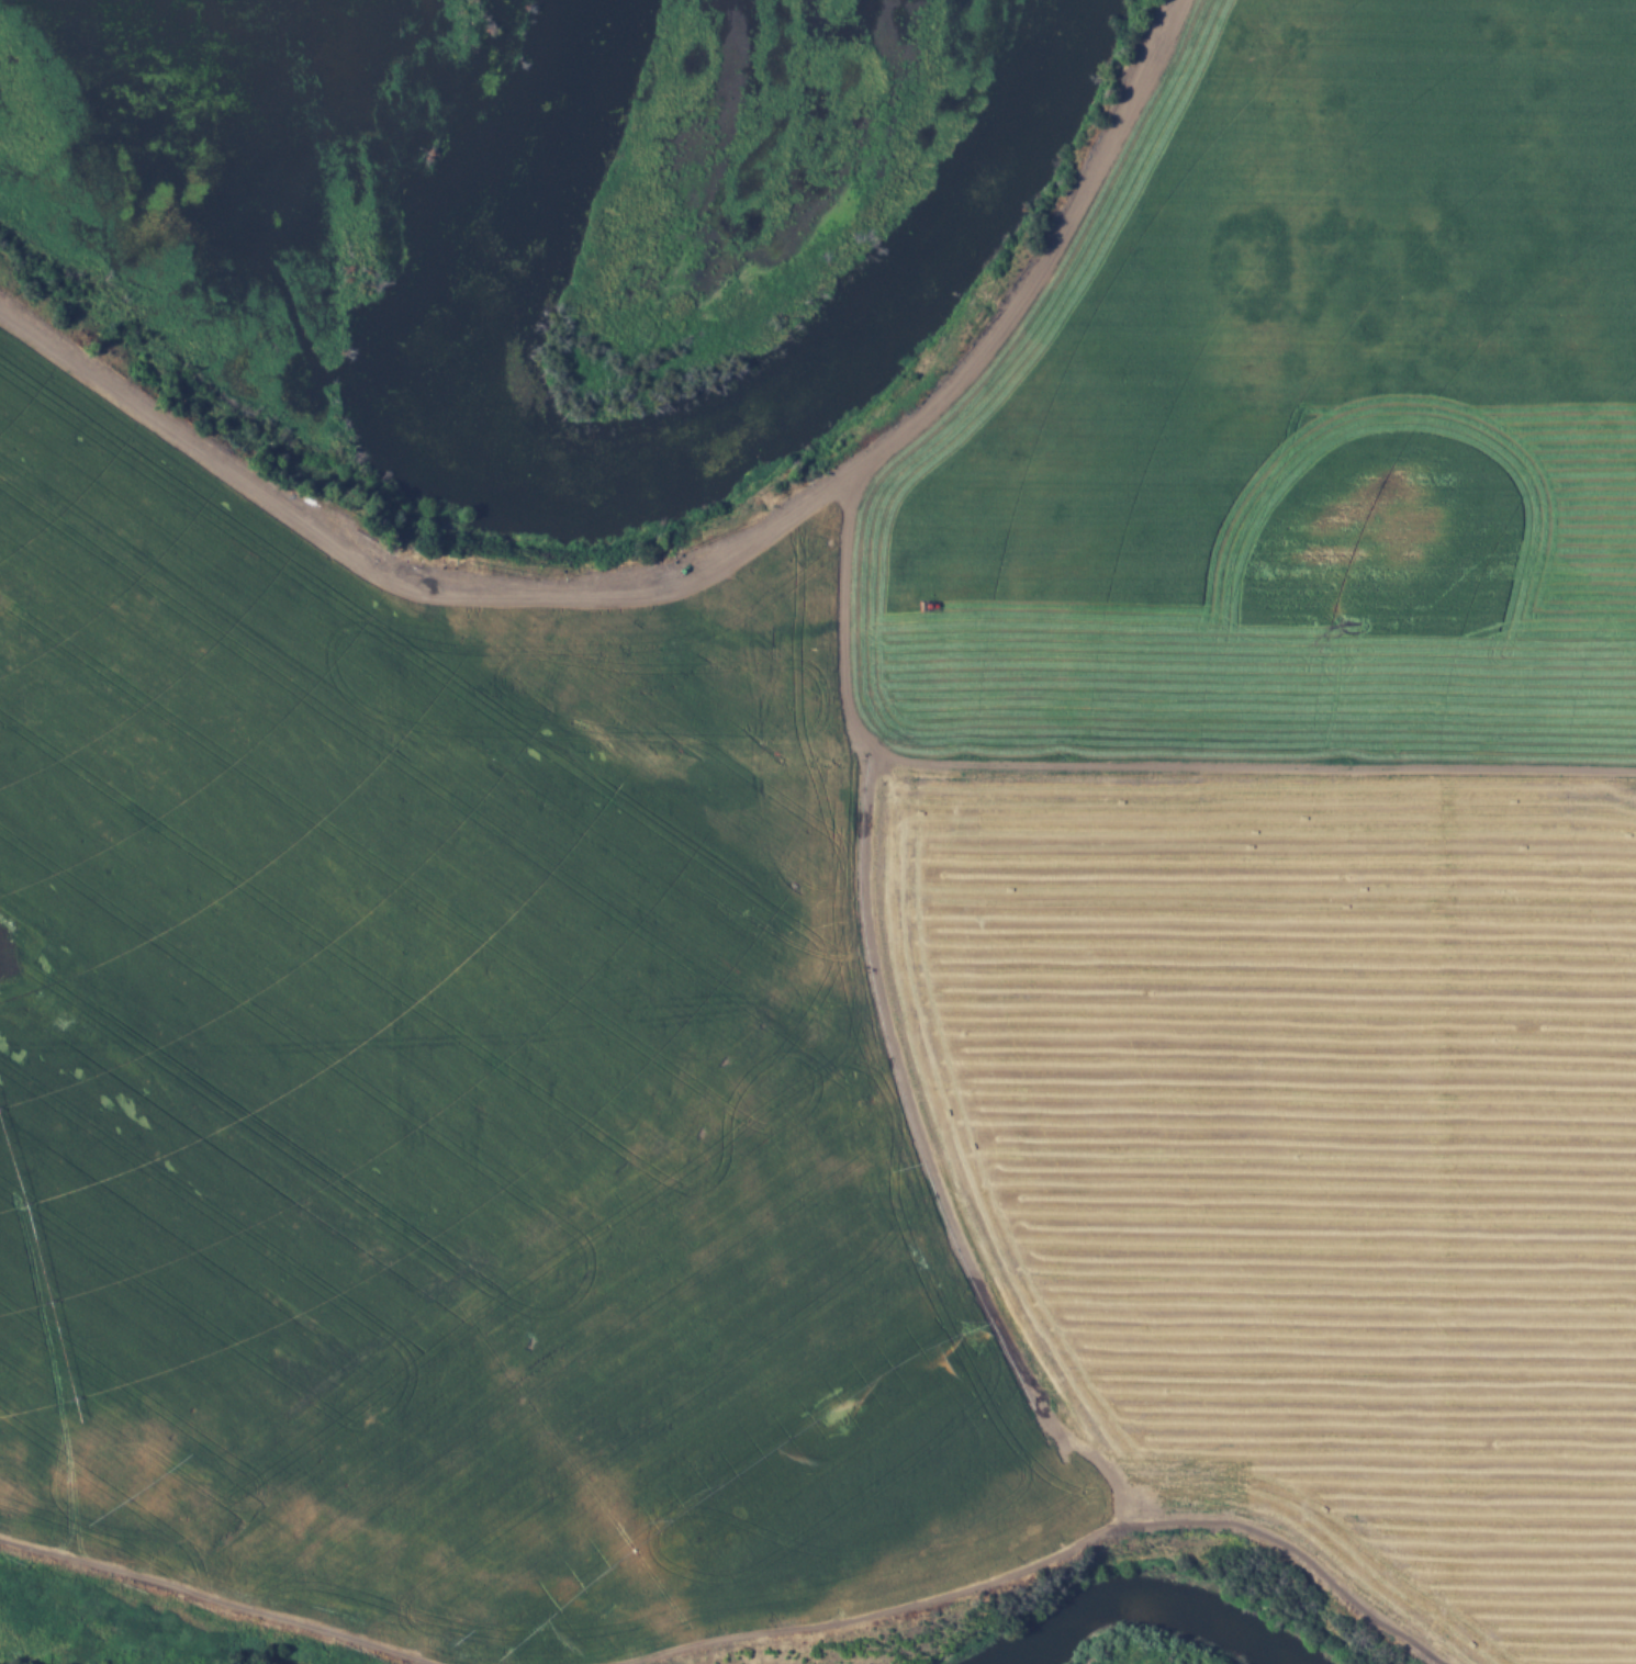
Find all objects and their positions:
river: (638, 456)
river: (1145, 1607)

